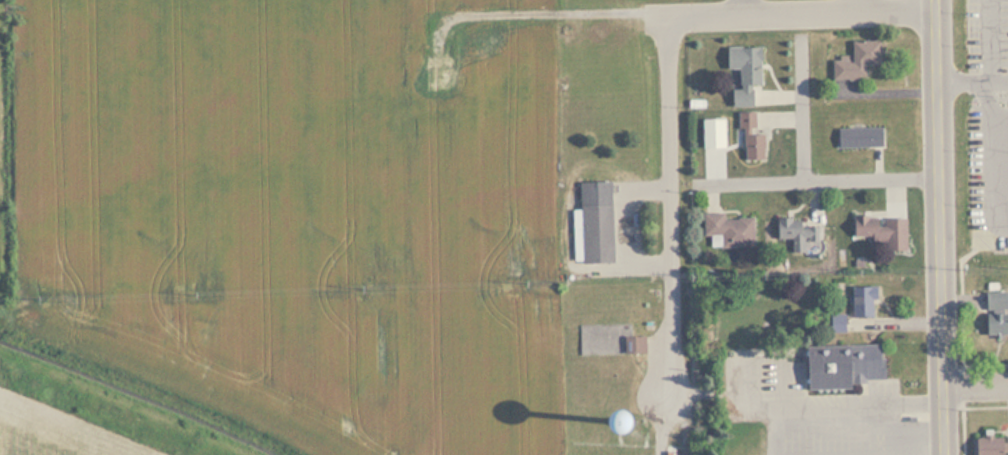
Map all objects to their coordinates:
road: (853, 6)
road: (742, 7)
road: (799, 12)
road: (541, 16)
building: (853, 60)
road: (985, 64)
building: (741, 73)
road: (993, 81)
road: (881, 96)
road: (801, 110)
parking lot: (988, 119)
building: (747, 138)
building: (857, 138)
road: (990, 158)
road: (814, 182)
road: (670, 206)
building: (592, 224)
road: (938, 227)
building: (728, 230)
building: (878, 231)
building: (793, 234)
building: (860, 302)
building: (995, 302)
building: (831, 323)
road: (910, 324)
building: (994, 324)
building: (598, 338)
road: (961, 338)
building: (840, 365)
road: (985, 366)
road: (740, 376)
road: (974, 384)
road: (782, 385)
road: (702, 395)
road: (858, 406)
road: (985, 407)
parking lot: (810, 410)
road: (771, 411)
building: (573, 421)
water tower: (574, 421)
road: (661, 426)
road: (892, 430)
building: (989, 446)

